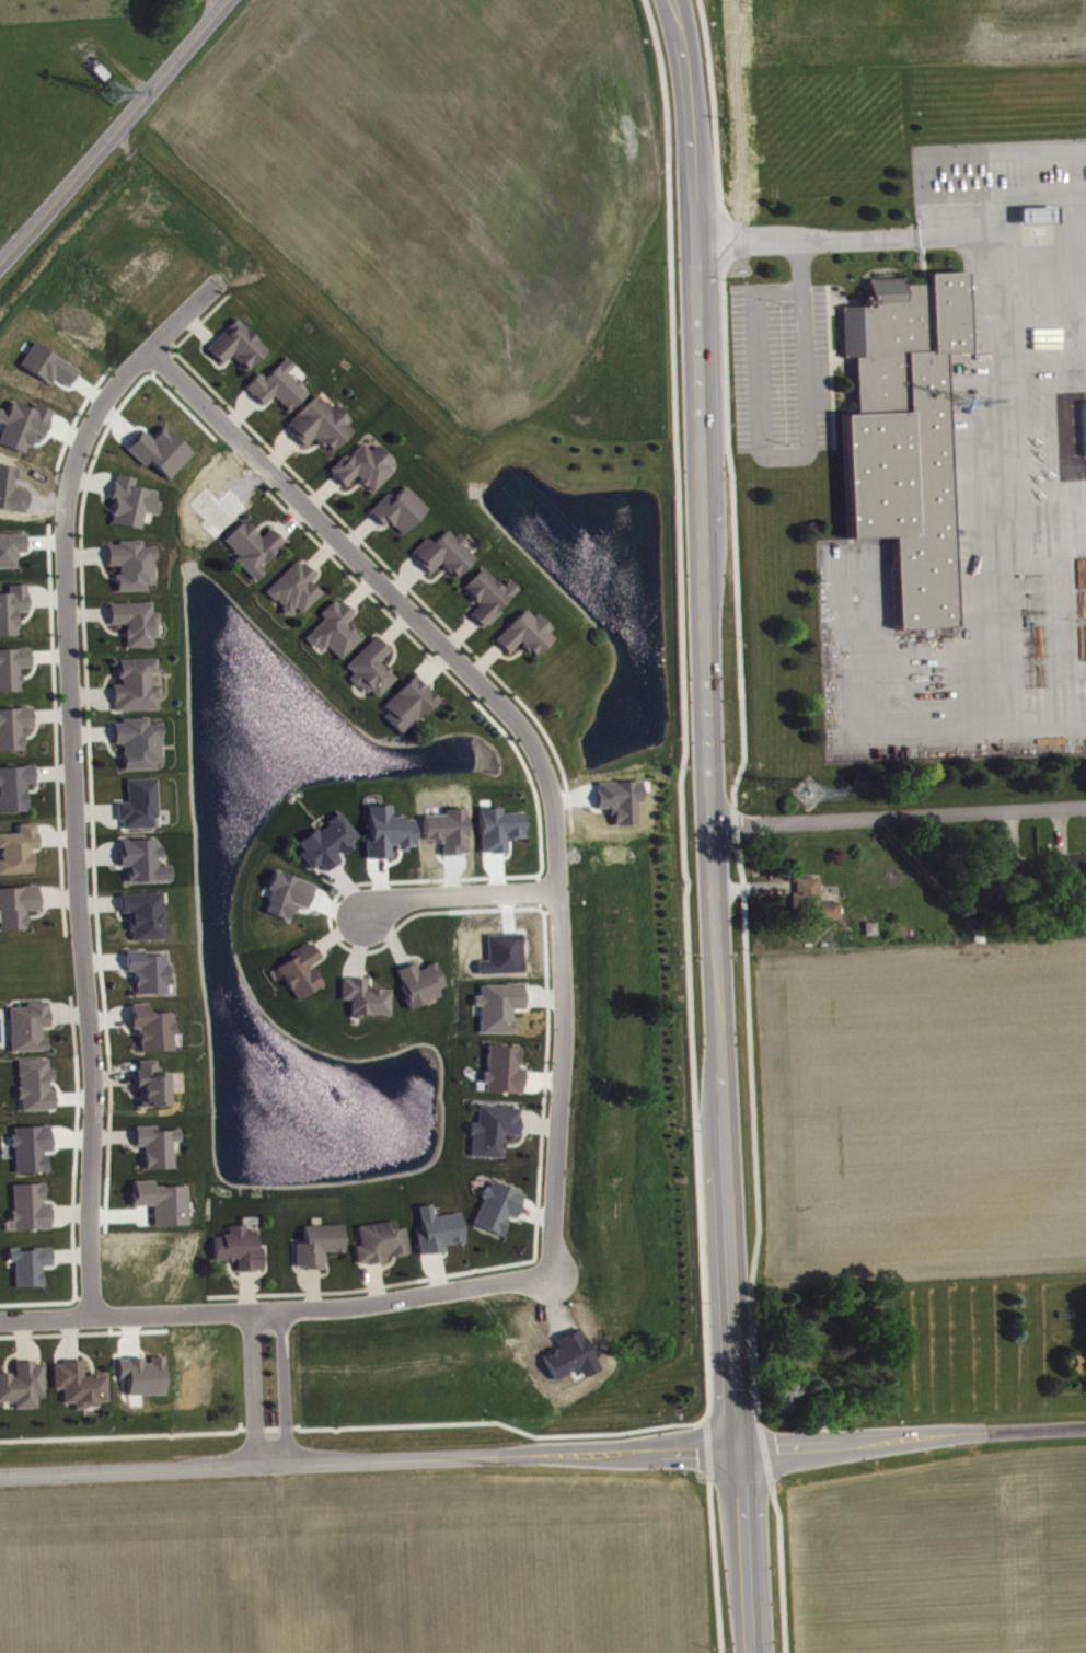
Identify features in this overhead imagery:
road: (212, 5)
road: (680, 18)
road: (669, 19)
power tower: (113, 96)
road: (115, 132)
road: (1044, 239)
road: (848, 244)
road: (197, 326)
building: (233, 343)
building: (49, 371)
building: (274, 383)
road: (724, 403)
road: (236, 411)
road: (1012, 418)
building: (315, 421)
building: (23, 431)
building: (909, 441)
road: (278, 452)
building: (161, 456)
road: (797, 461)
building: (359, 464)
road: (89, 482)
road: (317, 493)
building: (127, 499)
building: (394, 507)
road: (287, 519)
road: (356, 531)
building: (247, 545)
building: (440, 551)
road: (320, 552)
road: (83, 554)
building: (12, 555)
building: (129, 563)
road: (403, 578)
building: (290, 586)
road: (357, 590)
building: (485, 594)
building: (10, 604)
road: (85, 612)
building: (131, 620)
road: (393, 626)
building: (332, 627)
building: (523, 632)
road: (458, 633)
road: (46, 654)
road: (483, 658)
building: (11, 664)
building: (368, 666)
road: (434, 667)
building: (132, 682)
road: (89, 692)
building: (406, 701)
road: (682, 706)
road: (49, 713)
building: (12, 724)
road: (90, 731)
road: (527, 738)
building: (135, 740)
road: (51, 772)
road: (72, 773)
building: (13, 785)
power tower: (810, 797)
building: (136, 801)
road: (93, 810)
road: (897, 814)
road: (731, 822)
building: (389, 839)
building: (324, 840)
road: (708, 844)
building: (16, 847)
road: (95, 855)
building: (140, 858)
building: (1072, 875)
road: (347, 888)
road: (455, 895)
road: (57, 897)
building: (289, 901)
building: (15, 903)
building: (816, 913)
building: (147, 921)
road: (335, 932)
road: (388, 933)
building: (873, 935)
road: (358, 946)
building: (297, 968)
building: (151, 978)
building: (416, 981)
building: (360, 995)
road: (67, 1014)
road: (107, 1017)
building: (25, 1024)
building: (150, 1026)
building: (498, 1067)
road: (112, 1076)
road: (540, 1076)
building: (149, 1083)
building: (37, 1090)
road: (536, 1125)
building: (488, 1128)
road: (752, 1130)
road: (112, 1134)
building: (153, 1144)
building: (34, 1154)
building: (26, 1204)
building: (493, 1204)
road: (68, 1212)
building: (440, 1237)
building: (376, 1239)
building: (314, 1242)
building: (235, 1246)
building: (31, 1272)
road: (374, 1281)
road: (312, 1287)
road: (243, 1290)
road: (274, 1309)
road: (67, 1337)
road: (20, 1339)
building: (1082, 1366)
building: (146, 1382)
building: (21, 1383)
building: (76, 1383)
road: (284, 1387)
road: (252, 1388)
building: (786, 1403)
road: (706, 1446)
road: (762, 1452)
road: (543, 1455)
road: (713, 1564)
road: (779, 1567)

